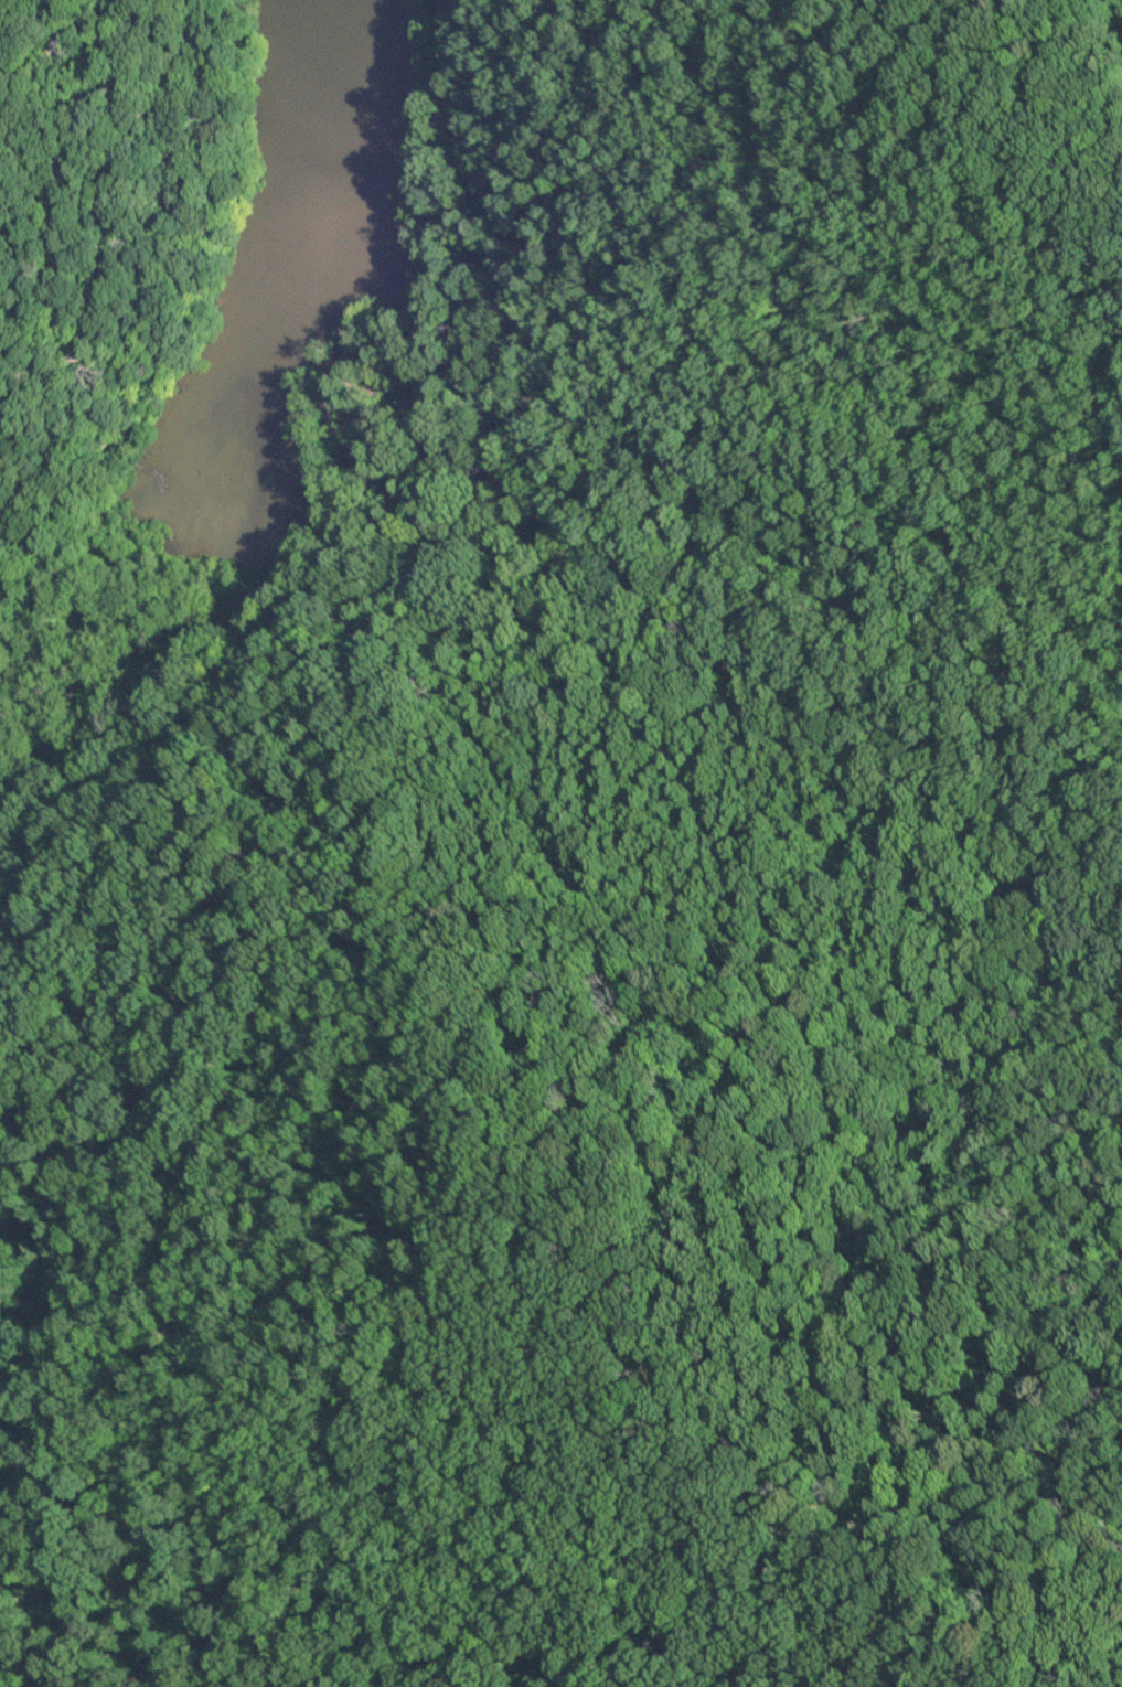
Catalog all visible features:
road: (393, 504)

